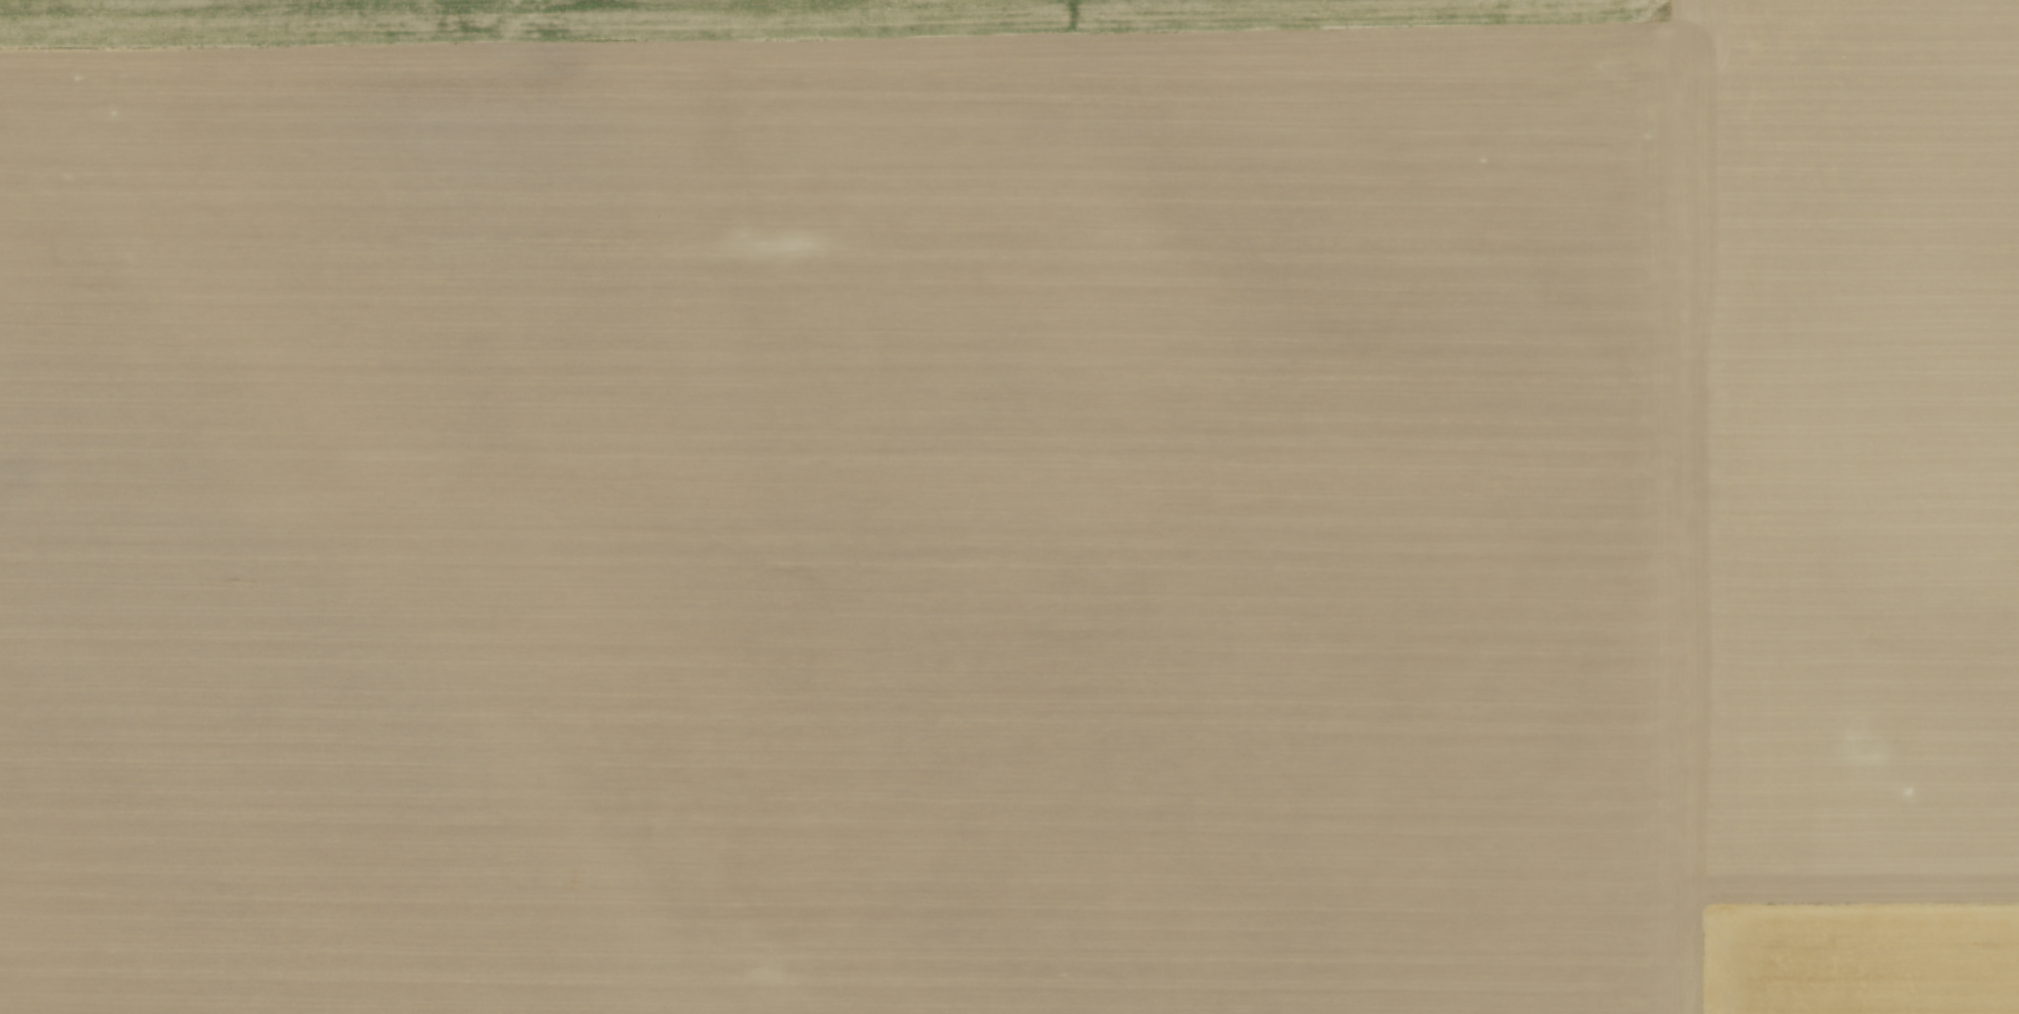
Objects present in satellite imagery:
crop: (1009, 507)

